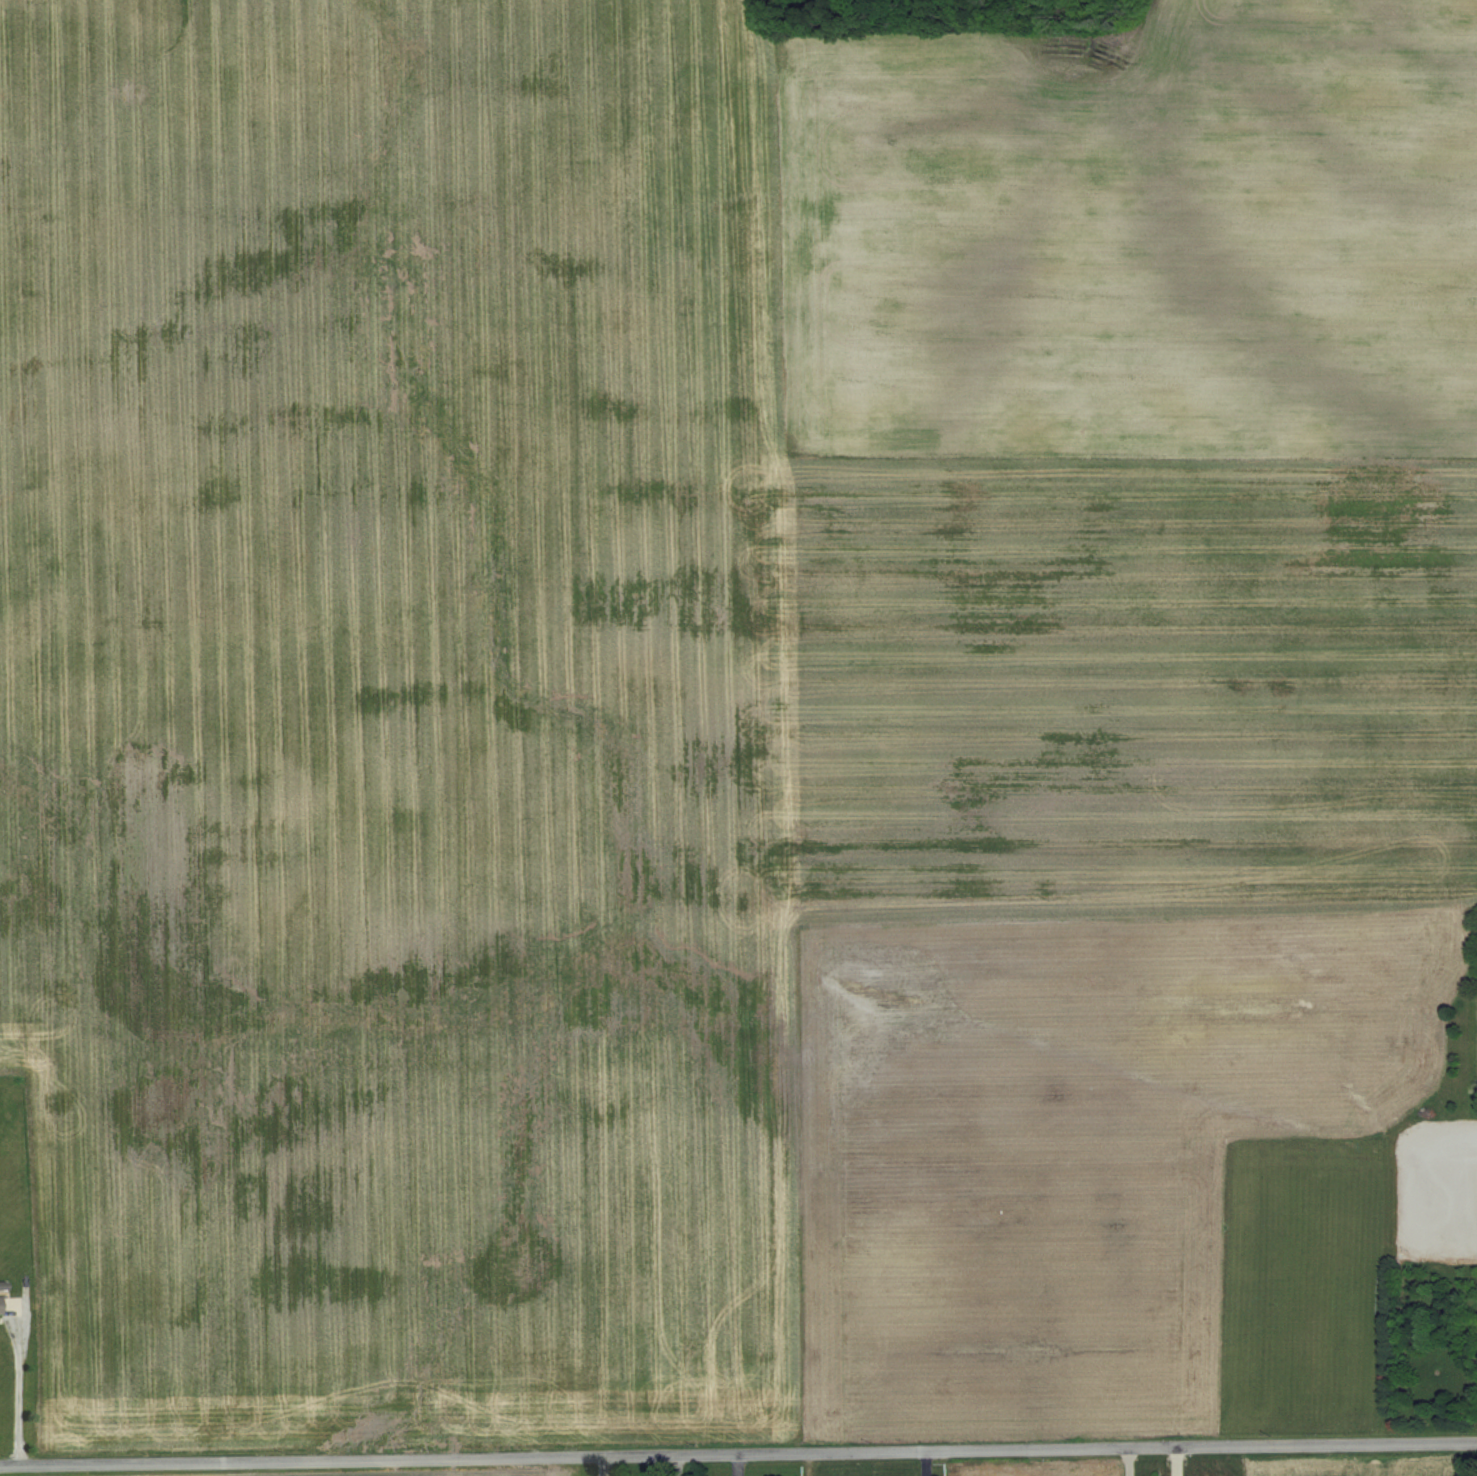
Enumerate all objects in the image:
road: (1439, 1170)
building: (1, 1305)
road: (17, 1389)
road: (738, 1454)
road: (1128, 1462)

